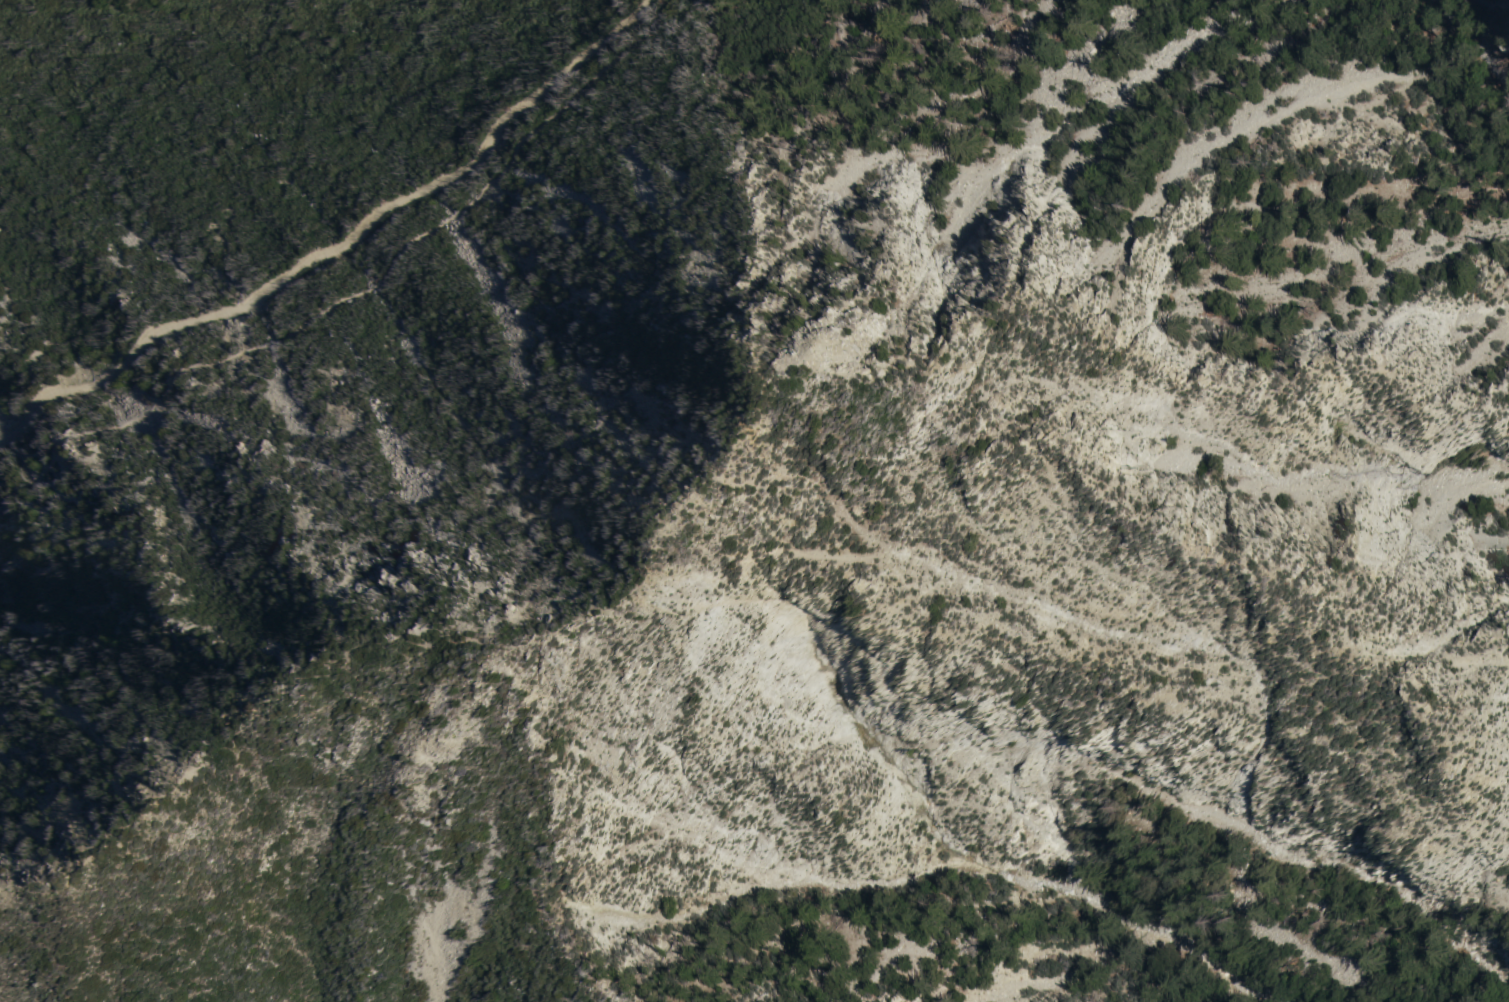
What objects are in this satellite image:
road: (338, 248)
road: (346, 294)
road: (348, 653)

